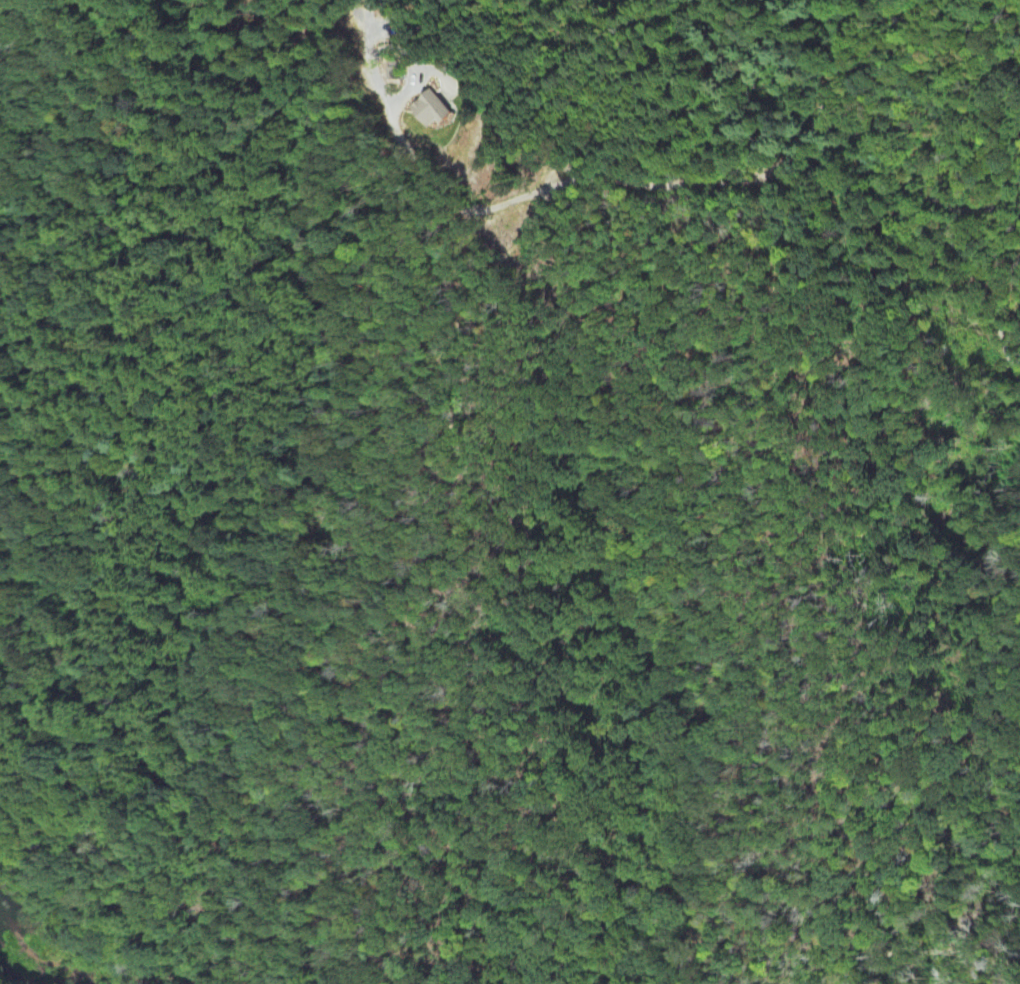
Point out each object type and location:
building: (438, 110)
road: (634, 182)

